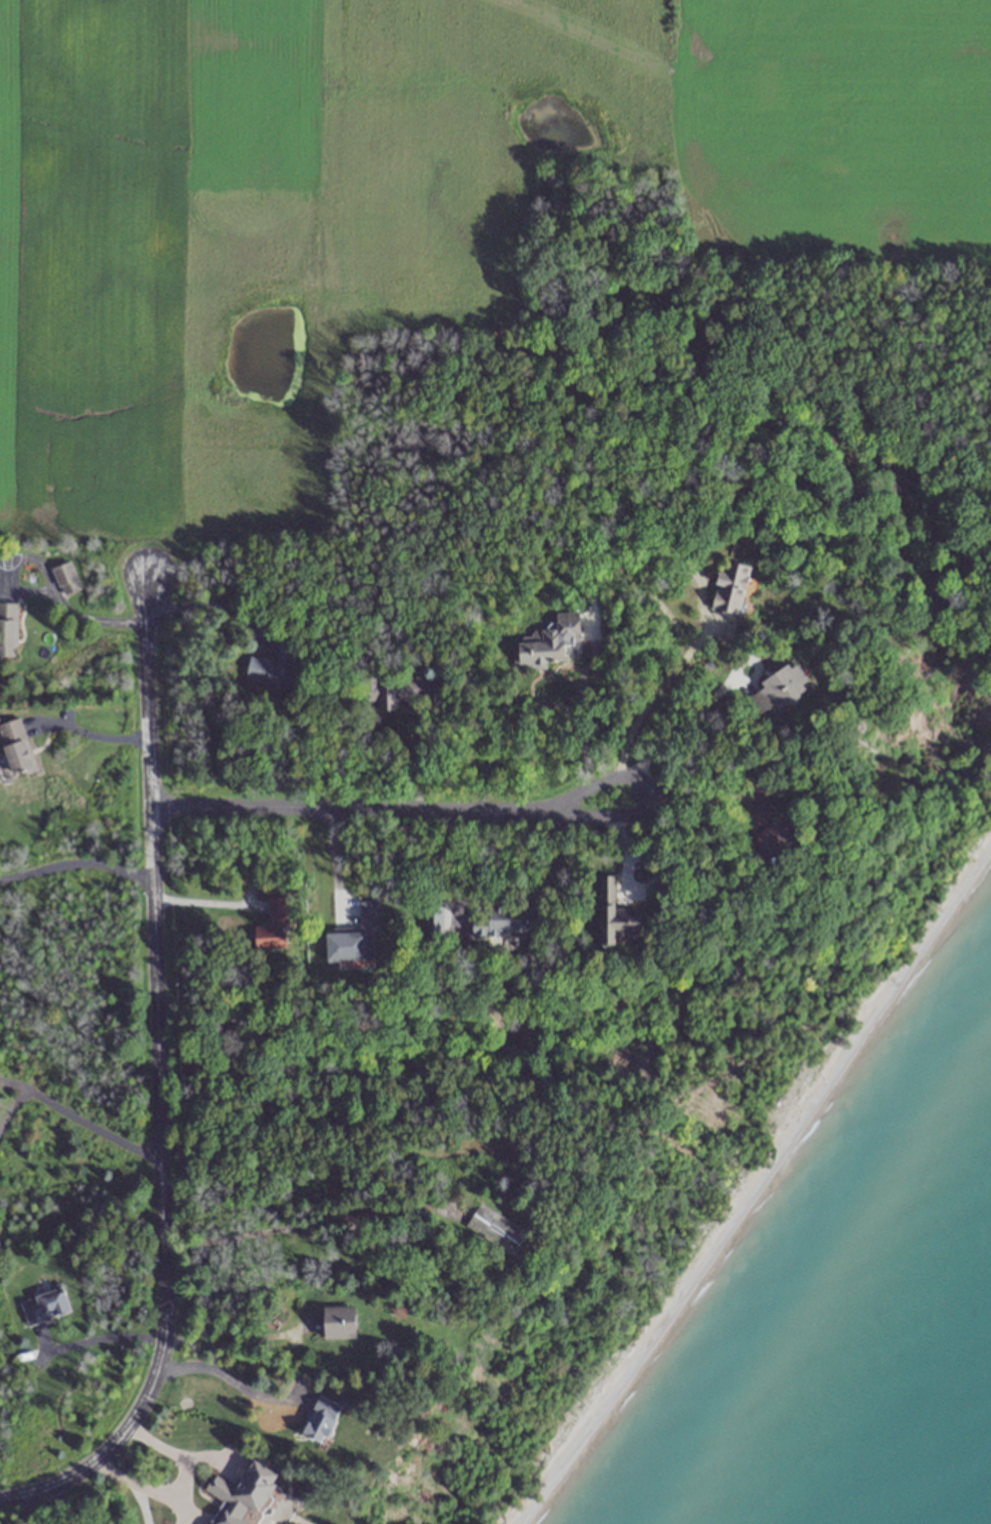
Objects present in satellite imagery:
crop: (403, 202)
building: (65, 579)
building: (730, 586)
road: (42, 591)
building: (7, 629)
building: (548, 642)
building: (272, 669)
building: (775, 690)
road: (647, 699)
road: (528, 707)
road: (680, 726)
road: (87, 733)
road: (408, 738)
building: (17, 747)
road: (642, 790)
road: (349, 811)
building: (776, 841)
road: (77, 862)
road: (333, 866)
road: (490, 896)
road: (207, 903)
building: (619, 914)
building: (506, 919)
building: (439, 920)
building: (270, 940)
road: (158, 1075)
road: (78, 1119)
building: (486, 1223)
road: (287, 1224)
building: (44, 1306)
road: (98, 1338)
road: (231, 1379)
building: (321, 1420)
road: (179, 1487)
building: (246, 1487)
road: (131, 1502)
road: (65, 1504)

